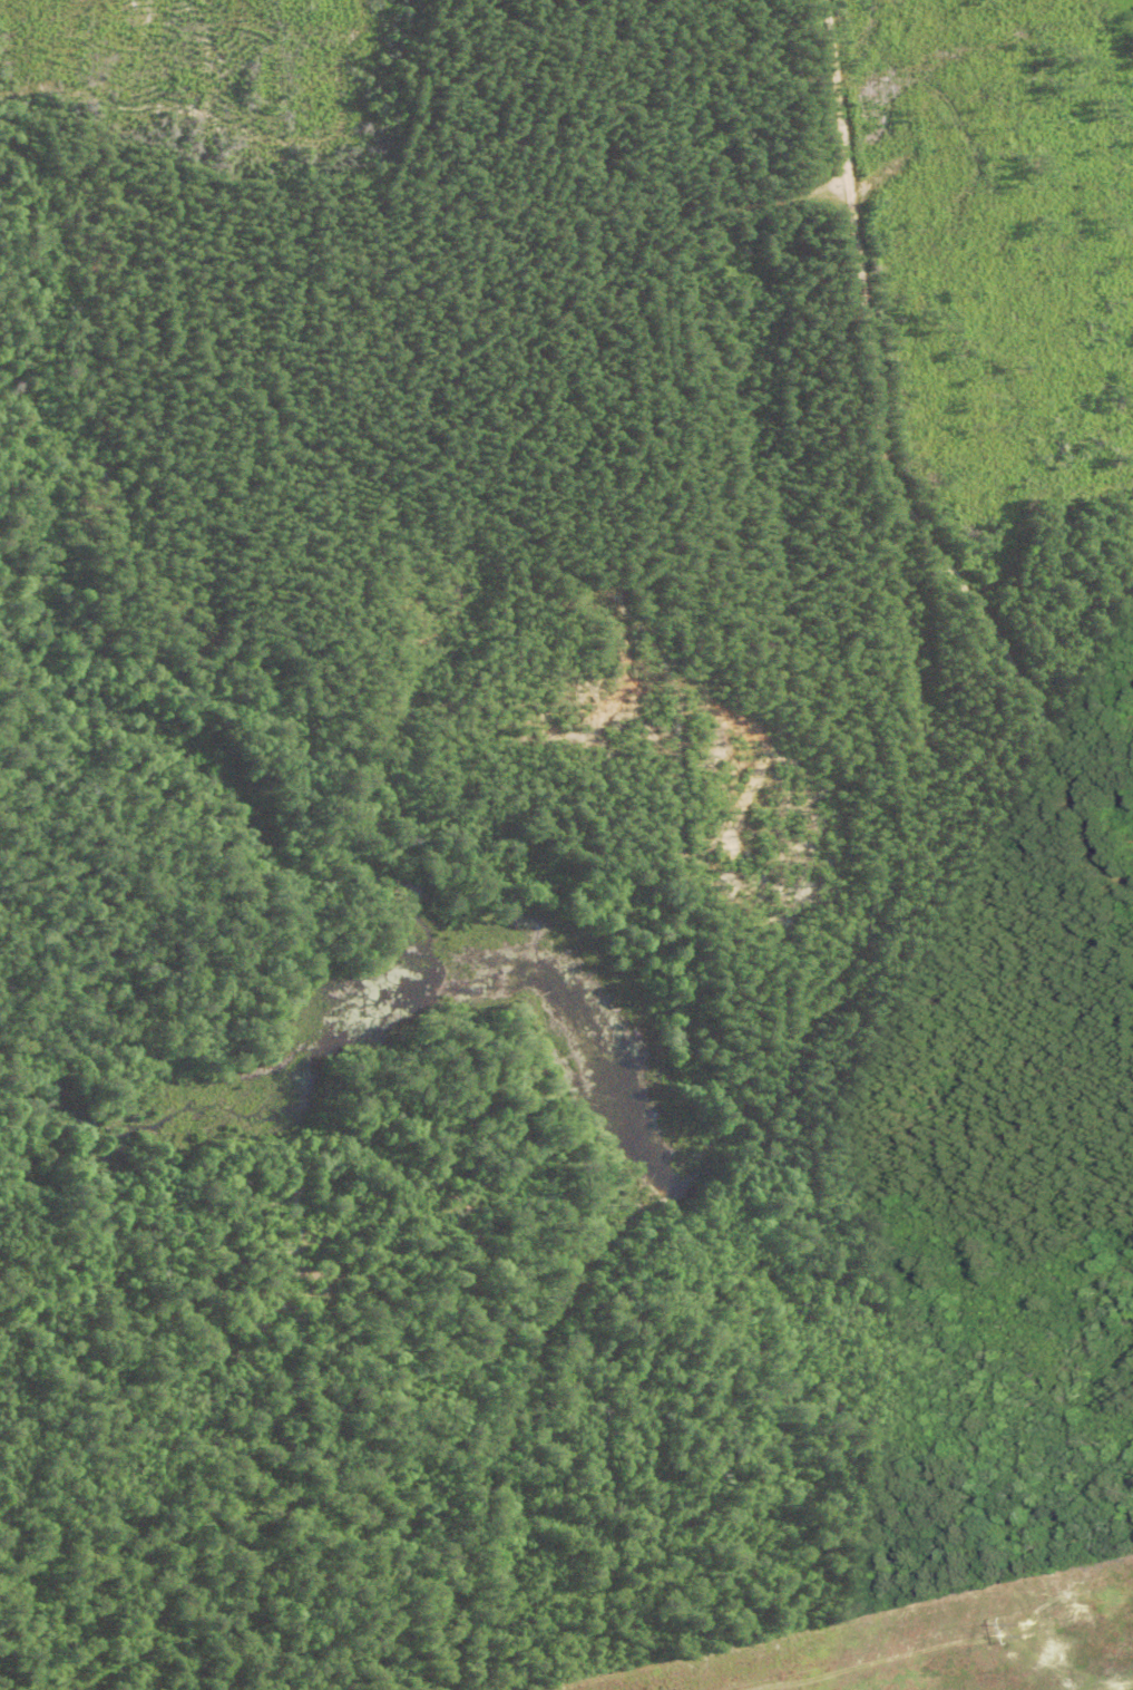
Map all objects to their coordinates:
road: (888, 474)
power tower: (1024, 1631)

